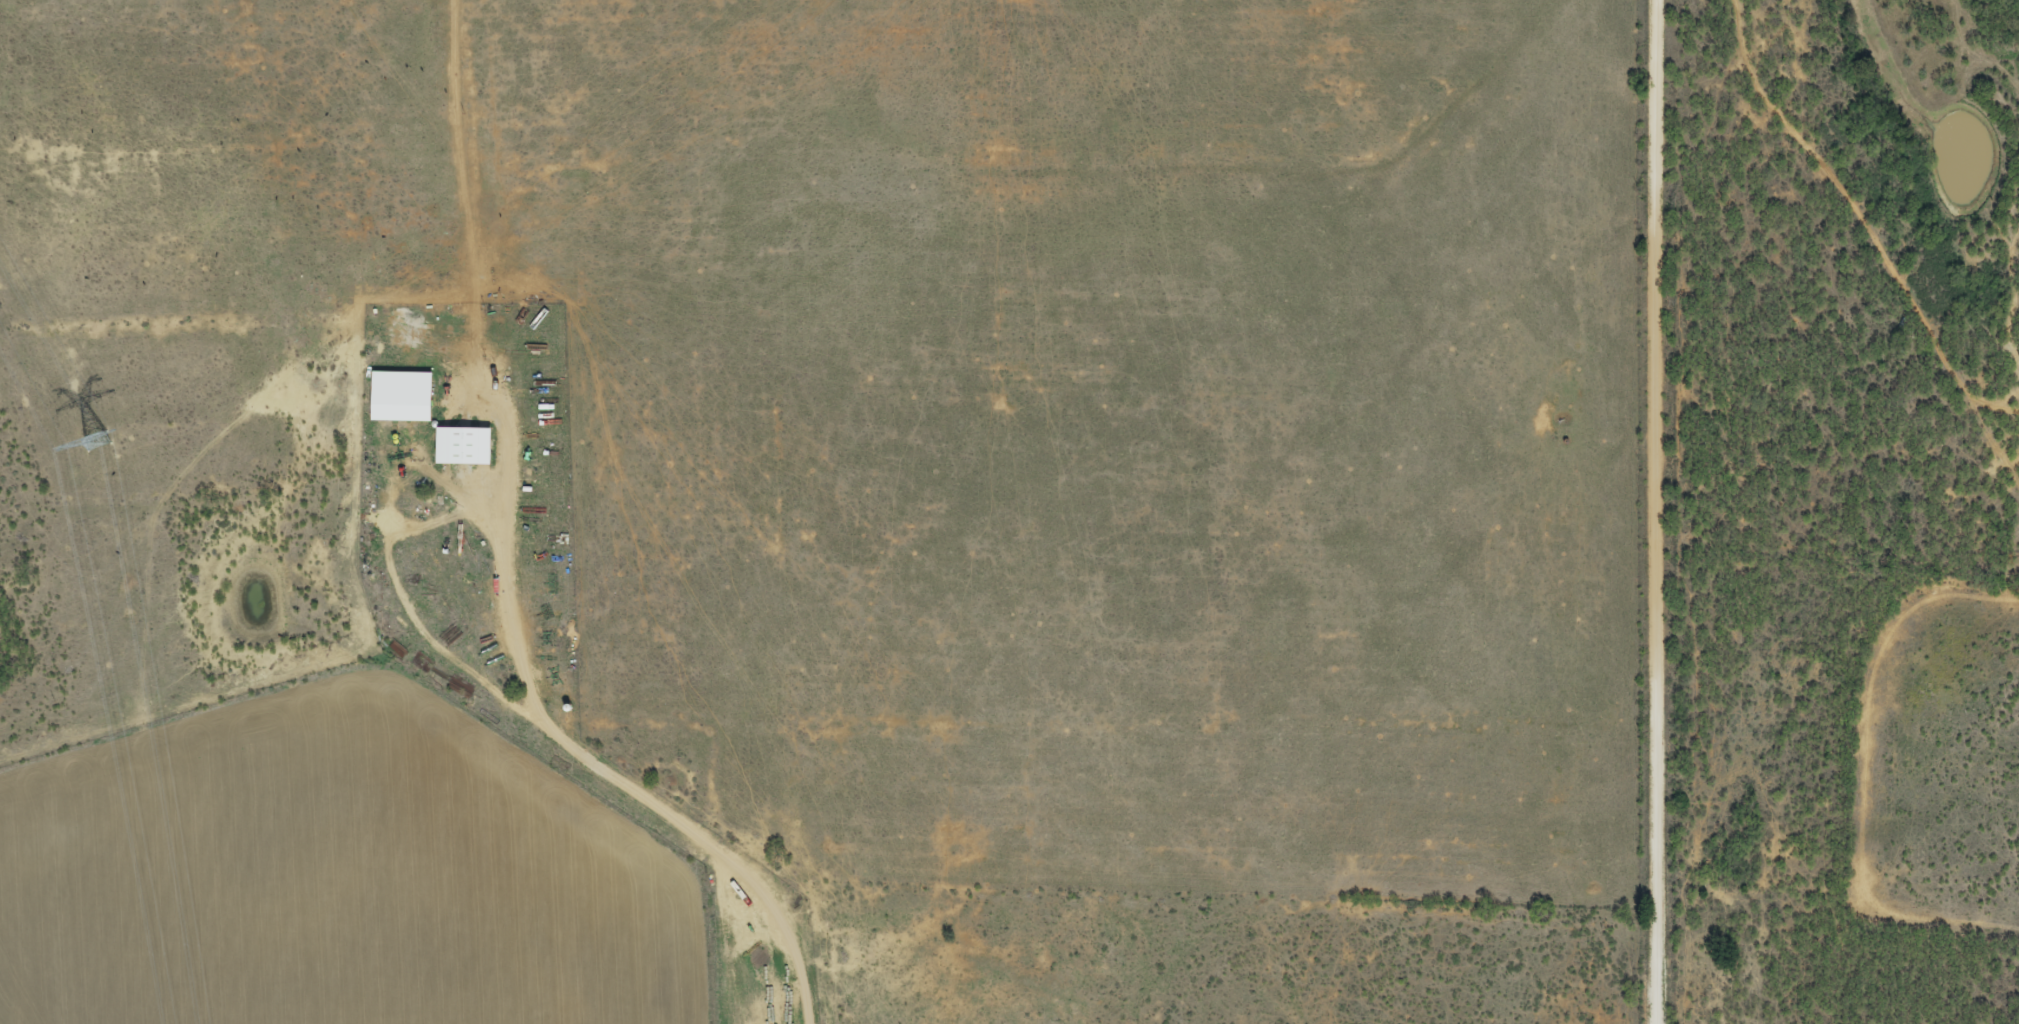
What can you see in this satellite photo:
building: (399, 393)
power tower: (95, 440)
building: (461, 444)
road: (1667, 511)
road: (617, 778)
road: (1558, 905)

